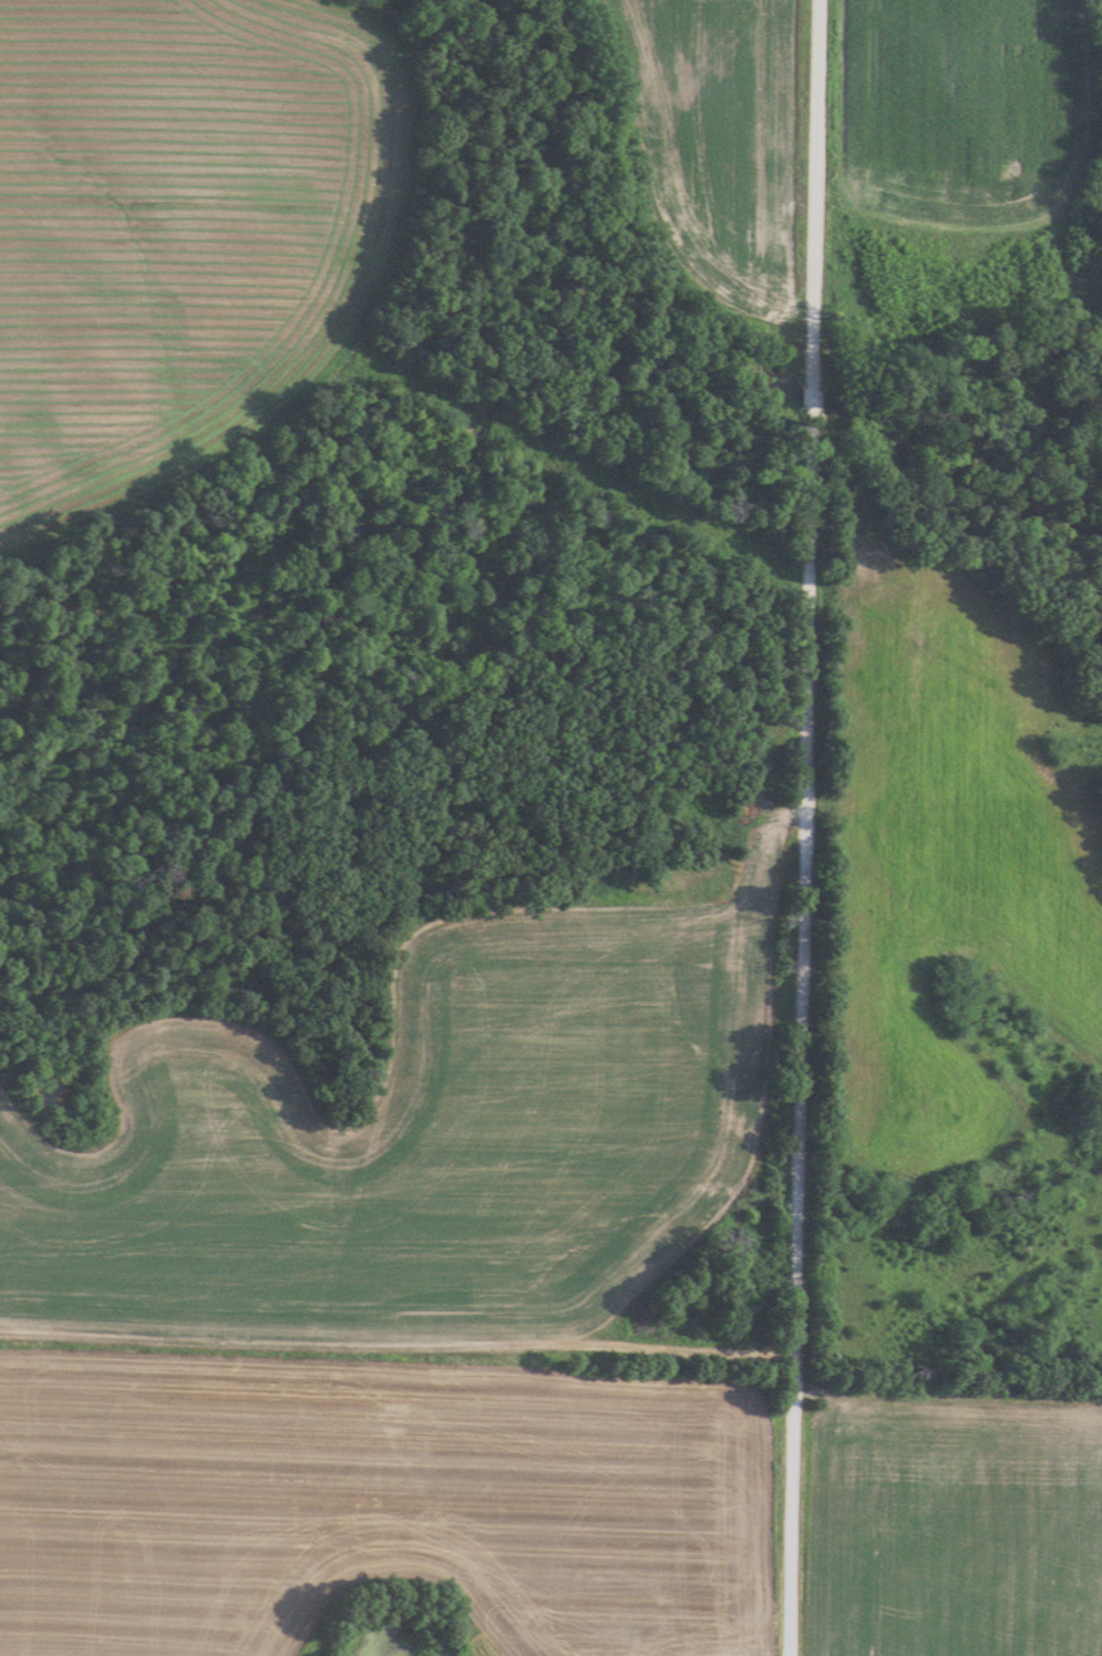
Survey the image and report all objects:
road: (815, 827)
road: (950, 1399)

